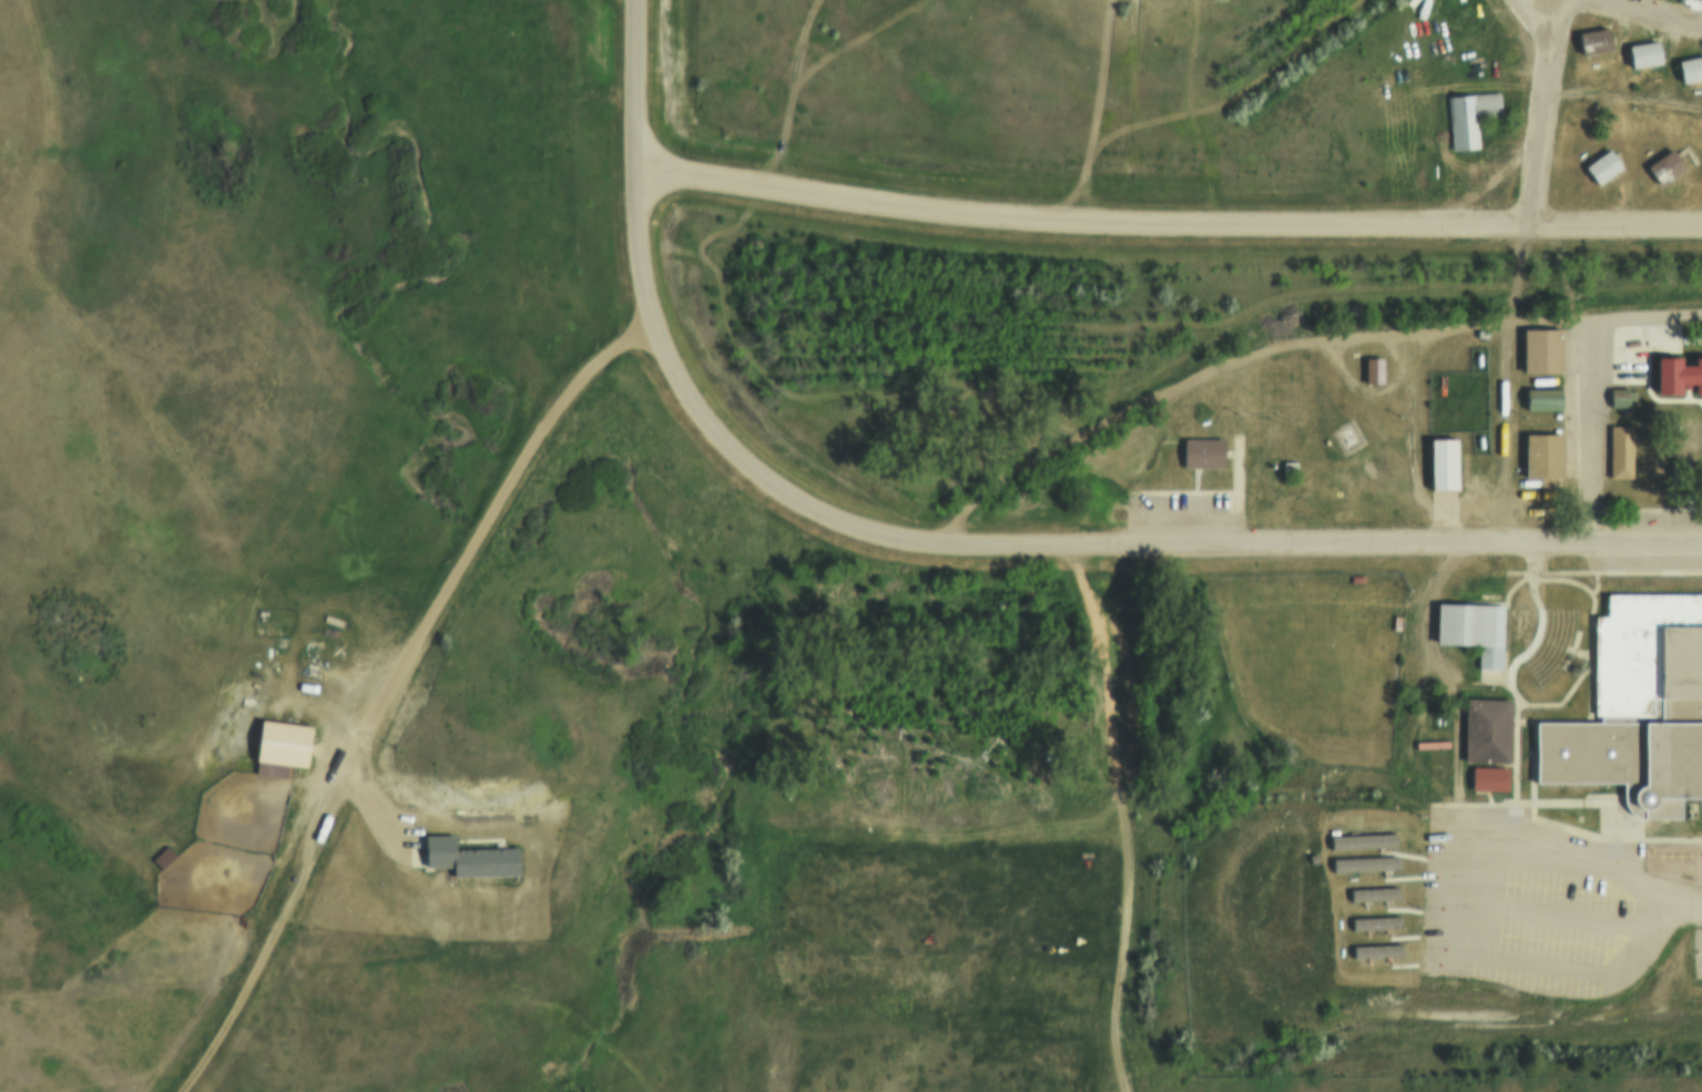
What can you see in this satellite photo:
road: (1622, 7)
building: (1591, 39)
building: (1641, 54)
building: (1689, 69)
road: (770, 78)
road: (634, 81)
road: (1542, 104)
building: (1467, 114)
building: (1662, 164)
building: (1600, 166)
road: (1168, 224)
road: (452, 292)
road: (1648, 319)
building: (1539, 351)
road: (1421, 357)
building: (1370, 370)
building: (1675, 377)
road: (1166, 390)
building: (1620, 395)
building: (1540, 397)
road: (1596, 430)
building: (1618, 449)
building: (1200, 452)
building: (1540, 455)
building: (1439, 465)
building: (1686, 470)
parking lot: (1181, 509)
road: (1649, 537)
road: (990, 549)
road: (460, 570)
building: (1355, 576)
building: (1474, 583)
building: (1395, 619)
building: (1468, 627)
park: (1309, 655)
building: (1638, 710)
building: (1485, 729)
building: (279, 747)
building: (1486, 777)
road: (1133, 815)
building: (1359, 839)
building: (1360, 860)
building: (463, 861)
building: (1372, 891)
road: (1689, 894)
parking lot: (1541, 901)
road: (1547, 907)
building: (1373, 918)
road: (1428, 920)
park: (1698, 941)
building: (1374, 946)
road: (257, 973)

